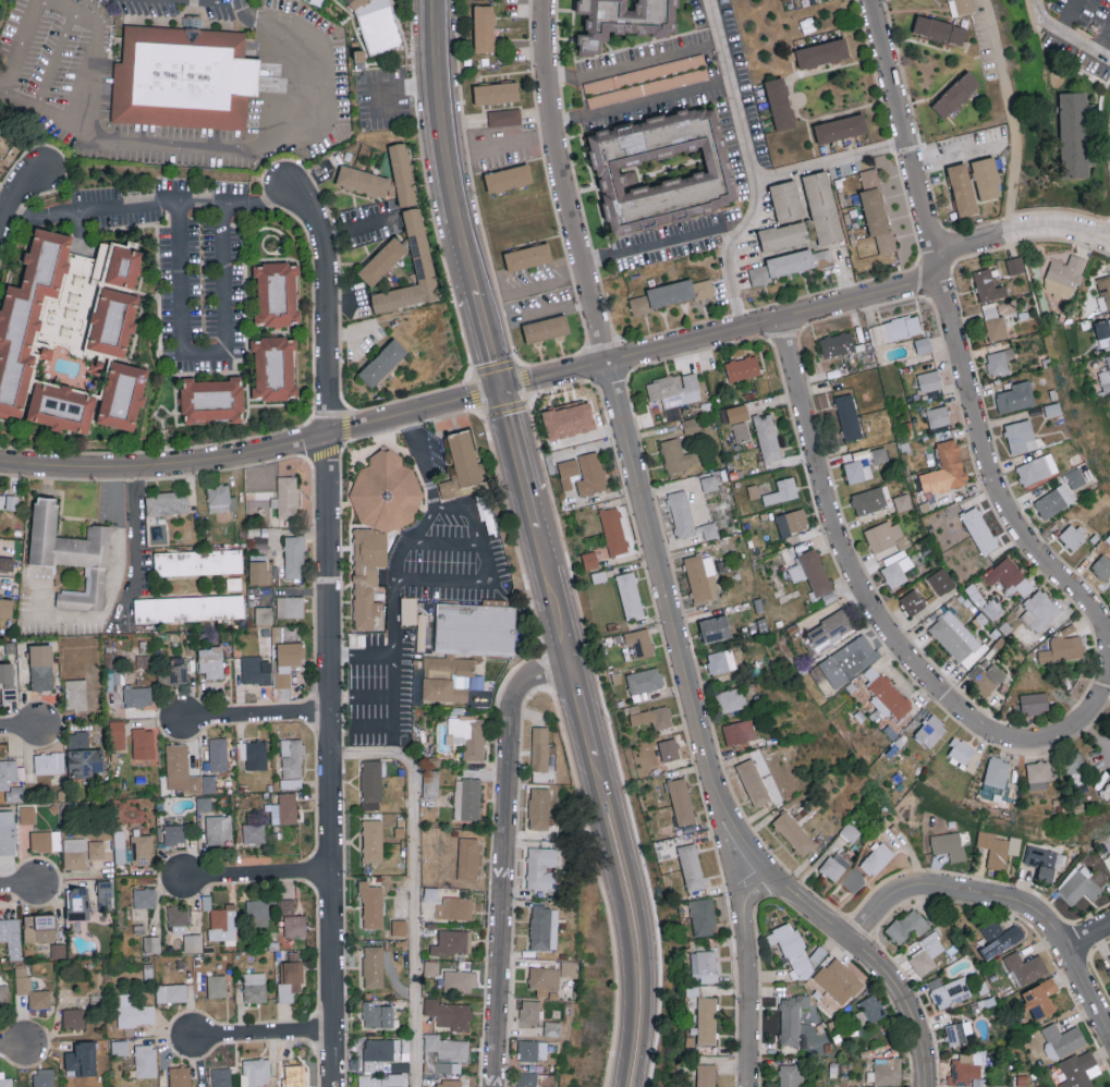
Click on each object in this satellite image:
building: (783, 0)
road: (220, 1)
building: (315, 1)
building: (961, 7)
road: (1068, 15)
road: (28, 21)
building: (623, 21)
building: (381, 25)
building: (484, 27)
building: (939, 29)
road: (1064, 34)
road: (1103, 40)
building: (822, 52)
road: (92, 56)
road: (57, 59)
road: (711, 68)
building: (183, 80)
parking lot: (103, 84)
road: (399, 85)
building: (496, 91)
building: (955, 94)
parking lot: (383, 100)
building: (780, 103)
road: (1012, 114)
building: (504, 117)
building: (841, 127)
road: (905, 132)
building: (1073, 134)
road: (515, 142)
road: (449, 148)
road: (248, 150)
road: (957, 155)
building: (0, 158)
road: (830, 158)
road: (749, 164)
building: (662, 169)
building: (403, 173)
building: (508, 178)
building: (986, 178)
building: (363, 181)
road: (473, 184)
building: (962, 188)
road: (16, 193)
building: (786, 200)
road: (149, 206)
building: (822, 207)
building: (876, 209)
road: (3, 216)
road: (356, 224)
road: (1018, 228)
building: (783, 235)
road: (664, 241)
building: (419, 247)
road: (441, 255)
building: (527, 256)
building: (382, 260)
building: (791, 264)
building: (1014, 265)
building: (120, 266)
building: (1064, 276)
building: (988, 285)
road: (533, 286)
building: (1106, 290)
building: (679, 292)
building: (277, 293)
building: (639, 305)
road: (355, 312)
building: (28, 315)
road: (539, 315)
building: (993, 321)
building: (112, 322)
building: (546, 328)
building: (1102, 328)
building: (895, 329)
road: (720, 330)
road: (351, 334)
road: (489, 342)
building: (838, 344)
building: (923, 345)
building: (46, 353)
road: (204, 354)
building: (999, 362)
building: (382, 363)
building: (275, 367)
building: (743, 368)
building: (1106, 376)
building: (928, 380)
traffic signals: (502, 391)
building: (674, 392)
building: (122, 395)
building: (1015, 396)
road: (617, 398)
building: (212, 400)
building: (61, 407)
road: (479, 413)
building: (739, 413)
building: (850, 418)
building: (938, 418)
building: (569, 419)
road: (411, 425)
building: (741, 431)
building: (767, 437)
building: (1021, 437)
road: (343, 443)
road: (253, 450)
building: (676, 455)
road: (423, 465)
building: (461, 465)
road: (989, 465)
building: (946, 468)
building: (1037, 468)
building: (857, 471)
building: (568, 472)
building: (590, 474)
building: (1075, 477)
building: (715, 481)
building: (386, 491)
building: (782, 491)
building: (288, 497)
building: (220, 498)
building: (1, 500)
building: (869, 500)
building: (12, 501)
building: (1053, 501)
building: (167, 503)
building: (681, 513)
building: (792, 522)
road: (536, 528)
building: (613, 530)
building: (709, 530)
building: (979, 530)
building: (1072, 535)
building: (886, 536)
road: (135, 538)
building: (73, 555)
building: (294, 557)
building: (590, 560)
building: (198, 562)
building: (7, 564)
parking lot: (459, 565)
building: (1103, 566)
building: (896, 567)
building: (810, 571)
building: (258, 572)
building: (367, 575)
building: (1008, 576)
building: (700, 577)
road: (394, 579)
building: (941, 581)
road: (868, 595)
building: (630, 596)
building: (912, 602)
road: (110, 603)
building: (290, 607)
building: (5, 608)
building: (188, 608)
building: (1038, 610)
building: (266, 625)
building: (715, 628)
road: (330, 630)
building: (829, 630)
building: (957, 638)
building: (639, 642)
building: (1063, 649)
building: (460, 651)
building: (849, 660)
building: (210, 661)
building: (288, 661)
building: (721, 661)
building: (41, 668)
building: (252, 669)
building: (173, 675)
road: (395, 676)
building: (986, 677)
building: (7, 682)
building: (644, 682)
parking lot: (380, 691)
building: (75, 694)
building: (137, 696)
building: (889, 697)
building: (731, 699)
road: (1101, 700)
building: (1034, 703)
road: (256, 717)
building: (651, 717)
road: (390, 729)
road: (20, 730)
building: (931, 731)
building: (739, 732)
building: (117, 735)
building: (145, 745)
building: (539, 748)
building: (669, 749)
building: (961, 750)
building: (218, 754)
building: (254, 754)
building: (83, 756)
building: (49, 762)
building: (292, 762)
building: (1074, 768)
building: (185, 771)
building: (997, 771)
building: (1037, 775)
building: (11, 780)
building: (753, 782)
building: (371, 784)
building: (467, 798)
building: (681, 802)
building: (539, 808)
building: (284, 809)
building: (663, 813)
building: (26, 814)
building: (219, 829)
building: (8, 832)
building: (254, 832)
building: (794, 833)
building: (173, 834)
building: (45, 841)
building: (373, 841)
building: (948, 845)
building: (121, 847)
building: (998, 847)
building: (96, 850)
building: (142, 850)
road: (727, 851)
building: (1109, 853)
building: (75, 854)
road: (912, 854)
road: (504, 857)
building: (467, 858)
building: (877, 859)
building: (1045, 862)
building: (834, 865)
building: (541, 867)
building: (691, 867)
road: (258, 874)
road: (622, 874)
building: (853, 879)
road: (411, 884)
building: (1082, 884)
road: (20, 886)
building: (105, 894)
building: (431, 894)
road: (1005, 894)
building: (144, 897)
building: (77, 904)
building: (371, 906)
building: (455, 908)
building: (257, 912)
building: (178, 915)
building: (703, 916)
building: (292, 920)
building: (223, 924)
building: (908, 925)
building: (399, 927)
building: (544, 927)
building: (40, 928)
road: (841, 928)
road: (1087, 932)
building: (11, 936)
building: (999, 938)
building: (193, 942)
building: (453, 942)
building: (151, 944)
building: (792, 949)
building: (927, 952)
building: (705, 965)
building: (374, 966)
building: (431, 967)
building: (1025, 967)
building: (569, 968)
building: (1109, 969)
road: (745, 974)
building: (22, 977)
building: (544, 979)
building: (839, 979)
building: (289, 980)
building: (459, 980)
building: (217, 986)
building: (254, 987)
building: (949, 990)
building: (172, 993)
building: (3, 997)
building: (1040, 997)
building: (869, 1009)
building: (529, 1010)
building: (133, 1011)
building: (449, 1013)
building: (378, 1014)
building: (795, 1016)
building: (73, 1018)
building: (706, 1019)
building: (552, 1027)
building: (959, 1031)
road: (265, 1036)
building: (1061, 1039)
building: (119, 1047)
road: (12, 1048)
building: (533, 1049)
building: (447, 1051)
building: (377, 1053)
building: (84, 1059)
building: (145, 1060)
building: (967, 1068)
building: (888, 1070)
building: (1078, 1070)
building: (255, 1071)
building: (293, 1075)
building: (706, 1075)
building: (790, 1075)
building: (180, 1076)
building: (221, 1076)
building: (44, 1077)
building: (526, 1078)
building: (5, 1080)
building: (382, 1080)
building: (448, 1083)

